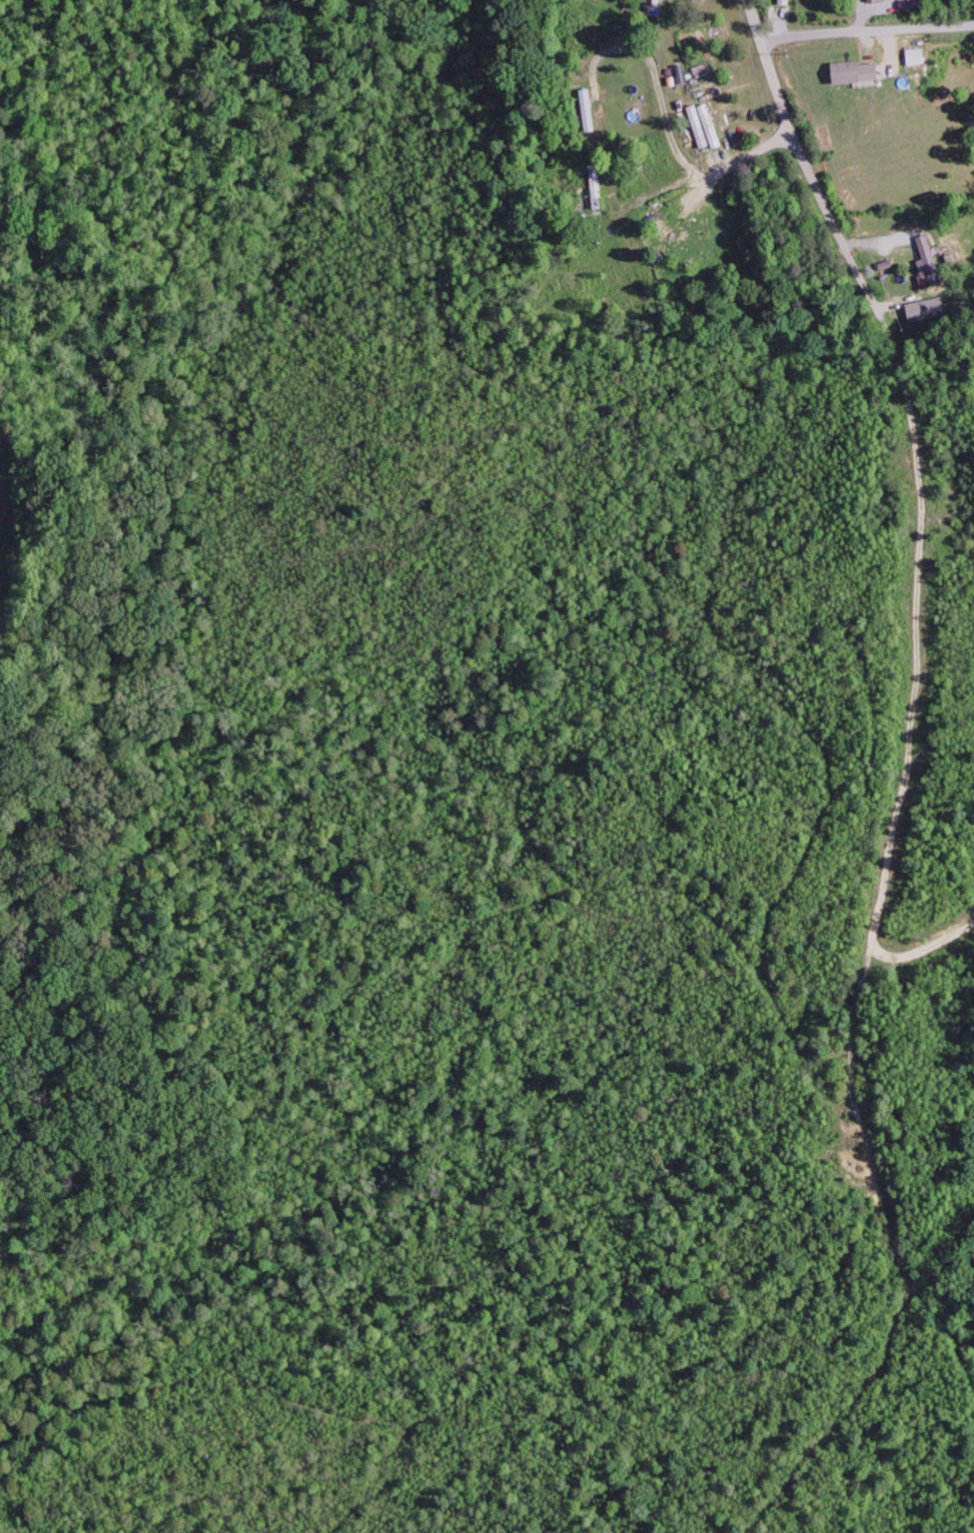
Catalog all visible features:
building: (865, 0)
building: (781, 2)
road: (865, 31)
building: (909, 57)
building: (847, 73)
building: (587, 110)
building: (709, 126)
road: (765, 148)
building: (924, 259)
road: (881, 351)

